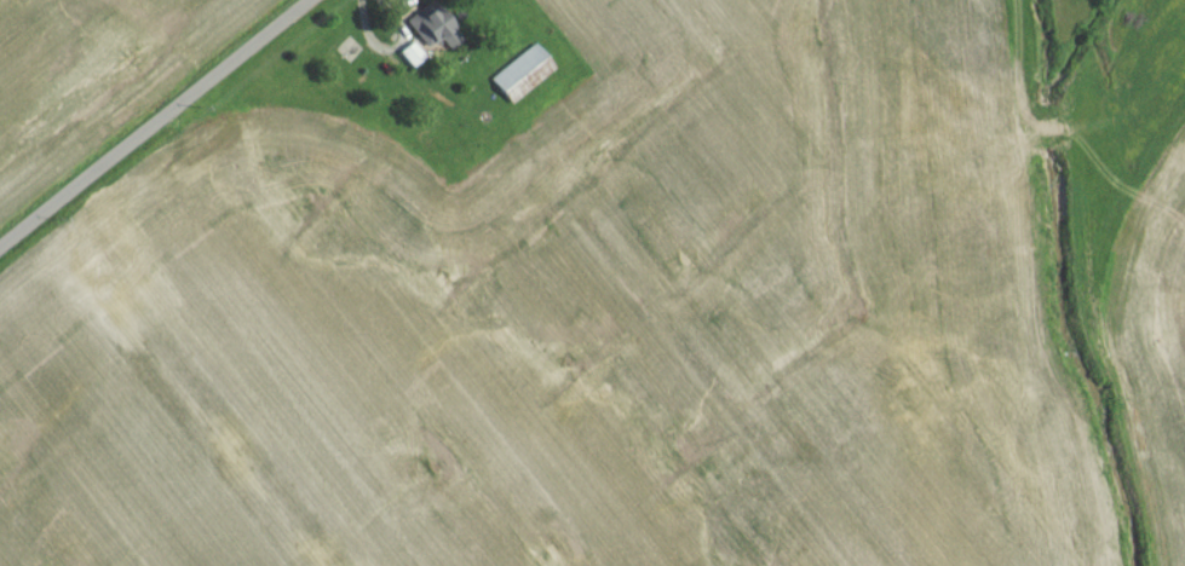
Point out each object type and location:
building: (430, 31)
building: (409, 60)
building: (520, 80)
road: (159, 126)

